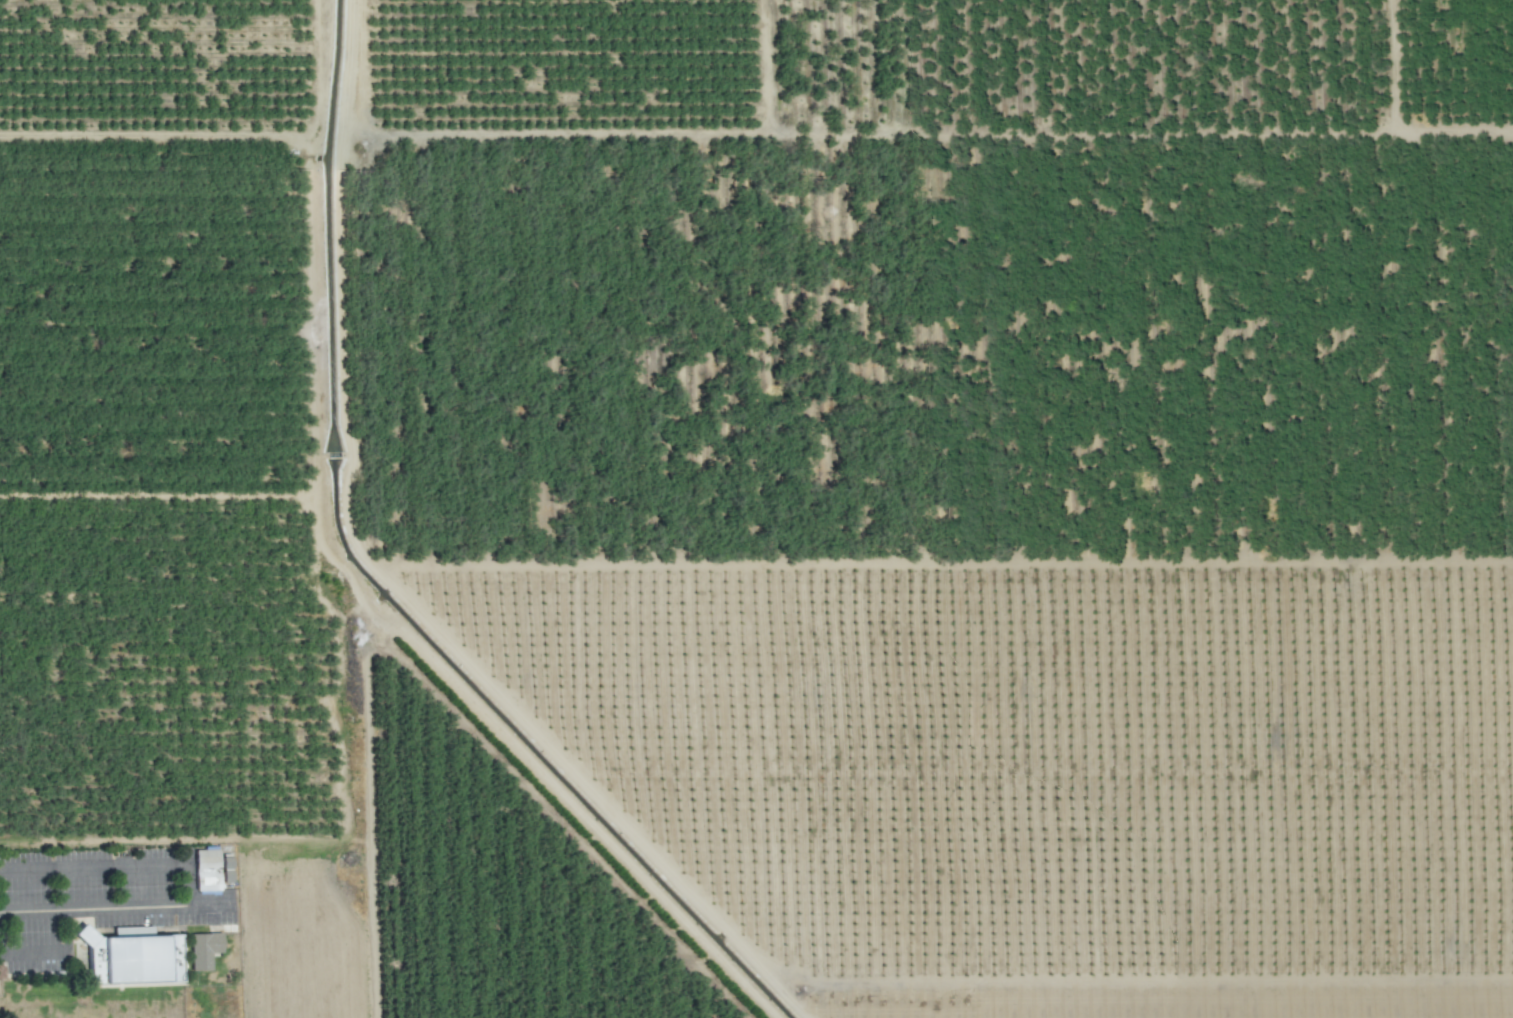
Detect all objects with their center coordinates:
building: (226, 868)
building: (206, 871)
road: (184, 886)
building: (203, 950)
building: (130, 956)

